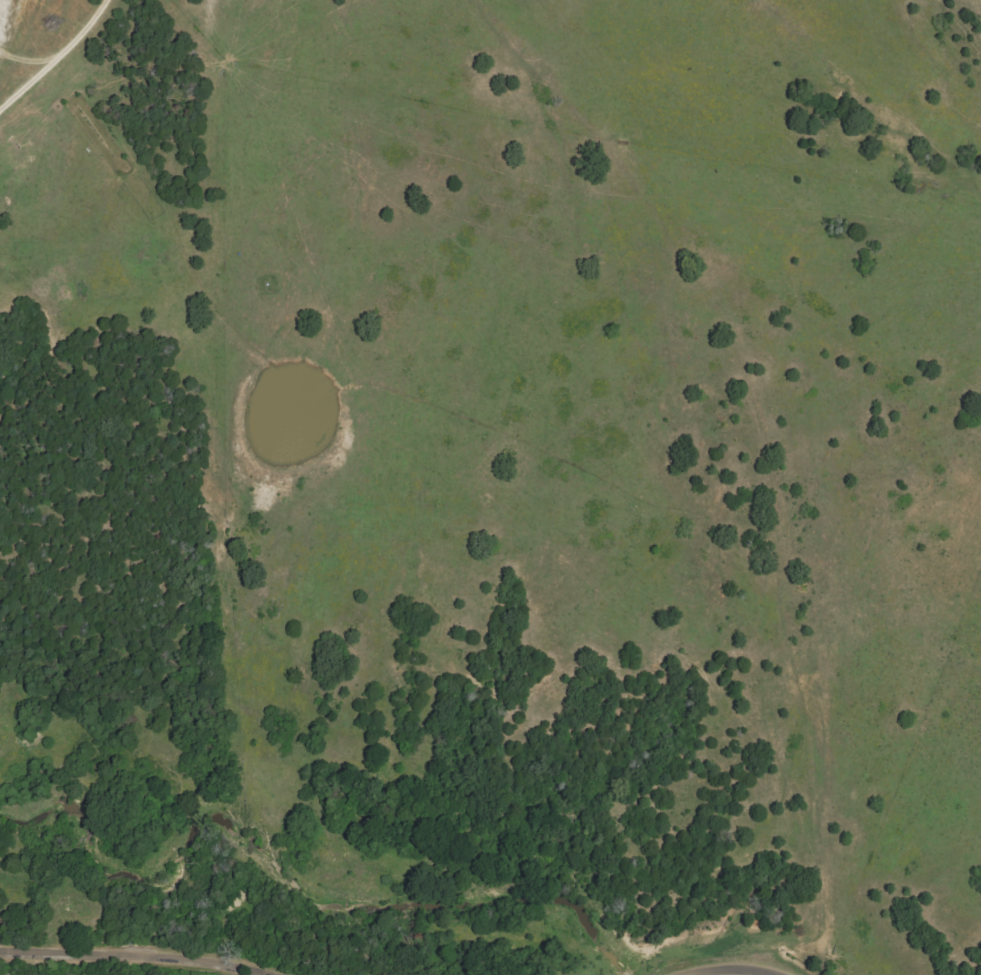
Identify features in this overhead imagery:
road: (148, 952)
road: (727, 963)

